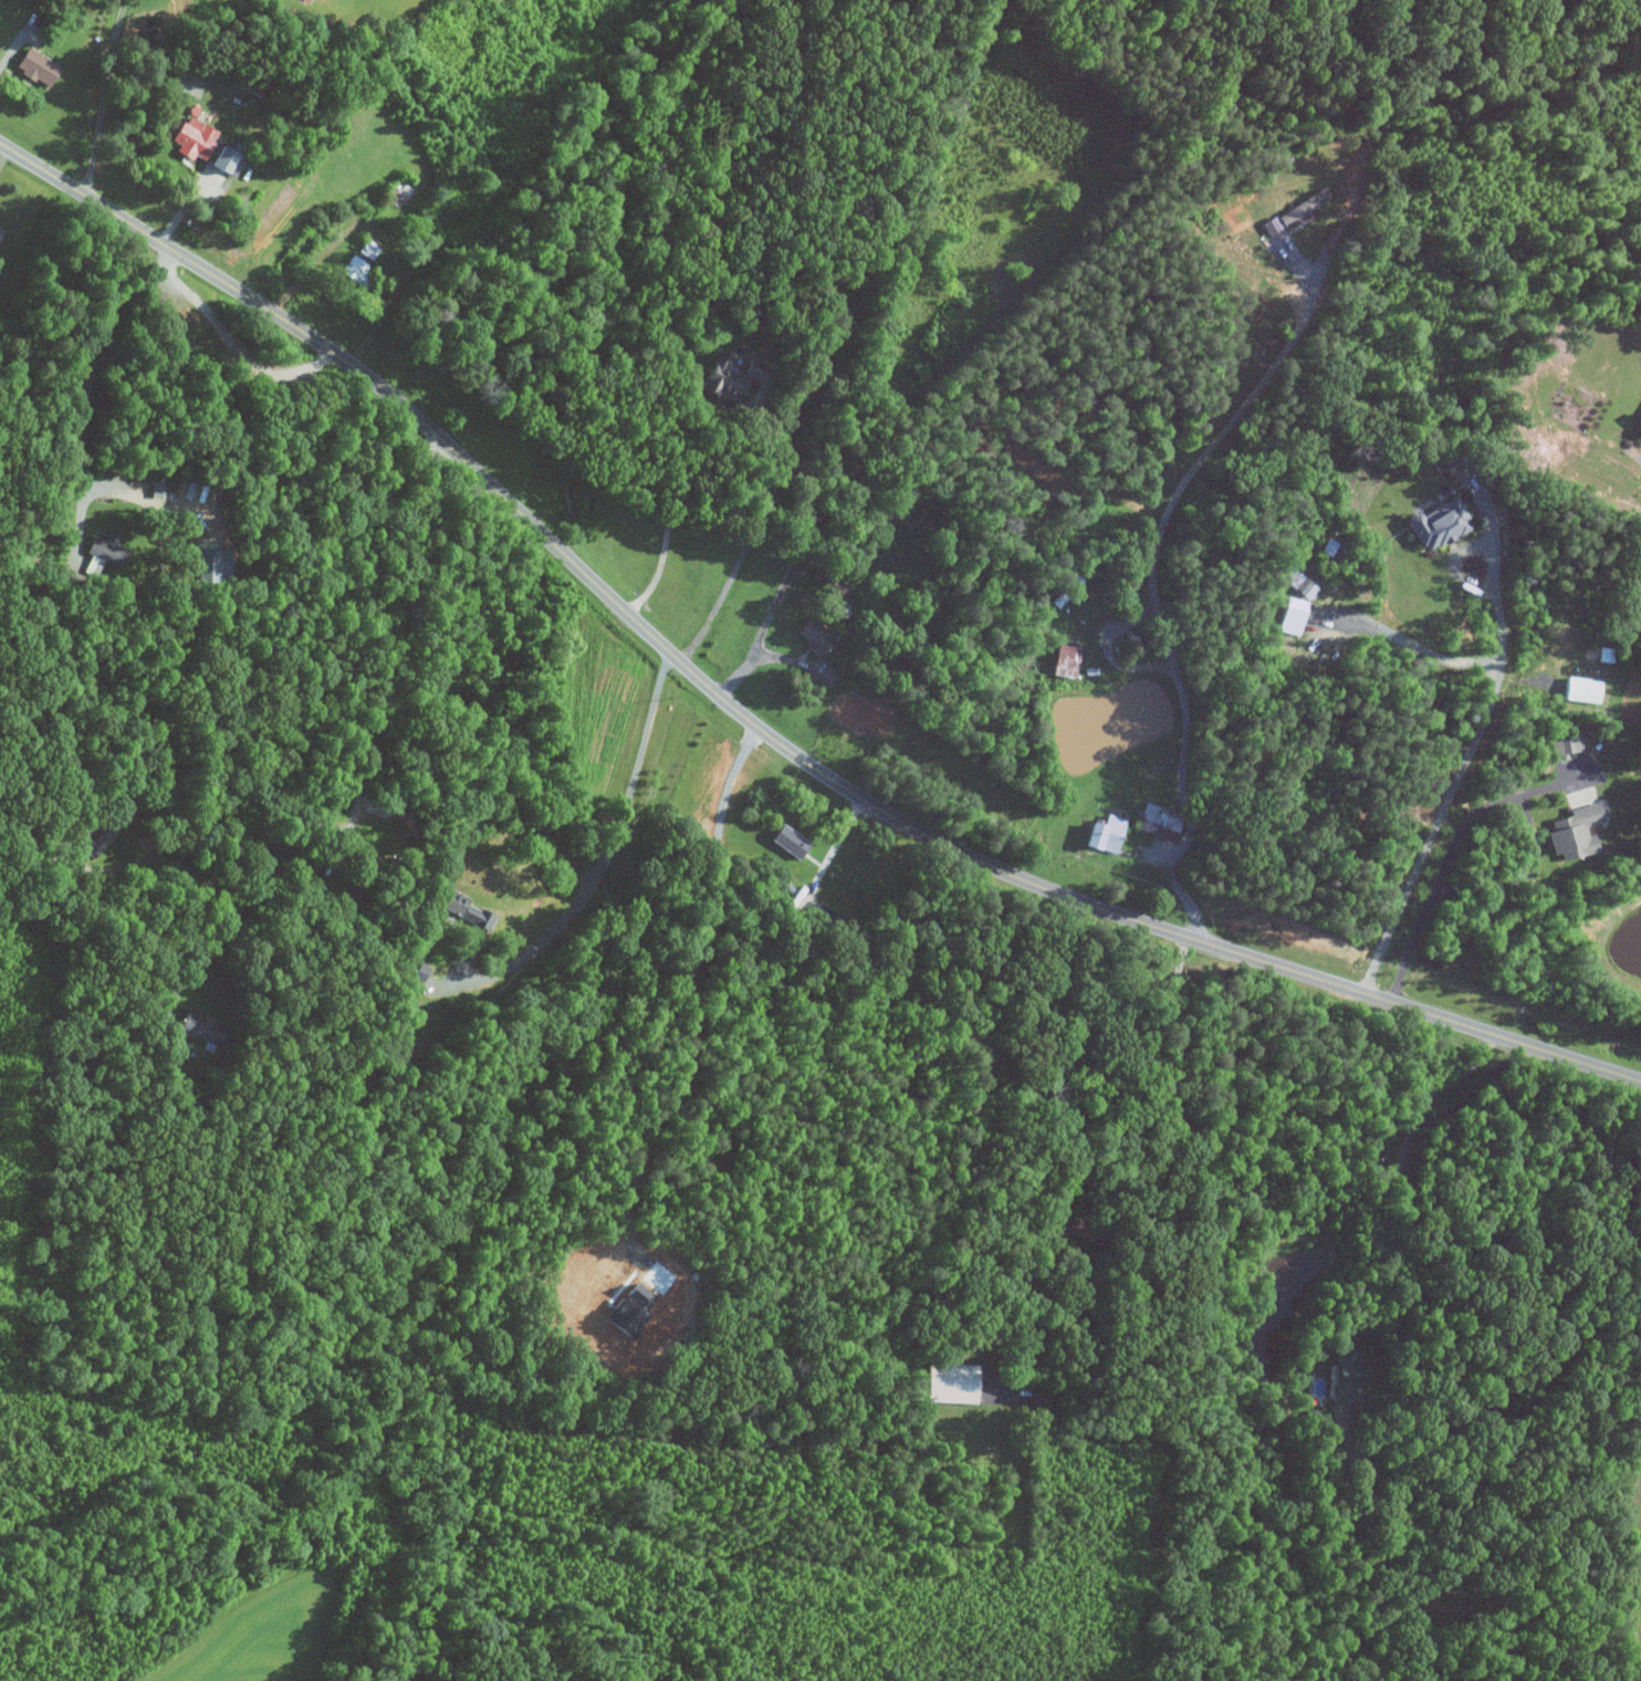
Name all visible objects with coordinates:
building: (312, 0)
road: (14, 42)
building: (42, 69)
road: (102, 97)
building: (196, 139)
building: (230, 159)
building: (1297, 207)
building: (2, 234)
building: (372, 250)
road: (317, 261)
building: (357, 268)
road: (231, 341)
building: (721, 379)
road: (83, 406)
building: (1635, 420)
road: (675, 489)
building: (153, 490)
road: (760, 498)
building: (1434, 523)
building: (1327, 547)
building: (105, 550)
road: (1154, 564)
building: (1296, 582)
building: (1287, 616)
road: (764, 625)
building: (811, 636)
road: (1408, 644)
road: (1108, 649)
building: (1062, 659)
building: (1579, 689)
road: (1482, 723)
road: (756, 725)
building: (1561, 743)
road: (359, 774)
road: (1483, 807)
building: (1154, 823)
building: (1570, 832)
building: (1099, 834)
building: (785, 842)
road: (604, 850)
road: (180, 867)
building: (461, 908)
building: (418, 972)
building: (196, 1027)
road: (1110, 1172)
road: (1393, 1214)
building: (1342, 1378)
building: (948, 1382)

